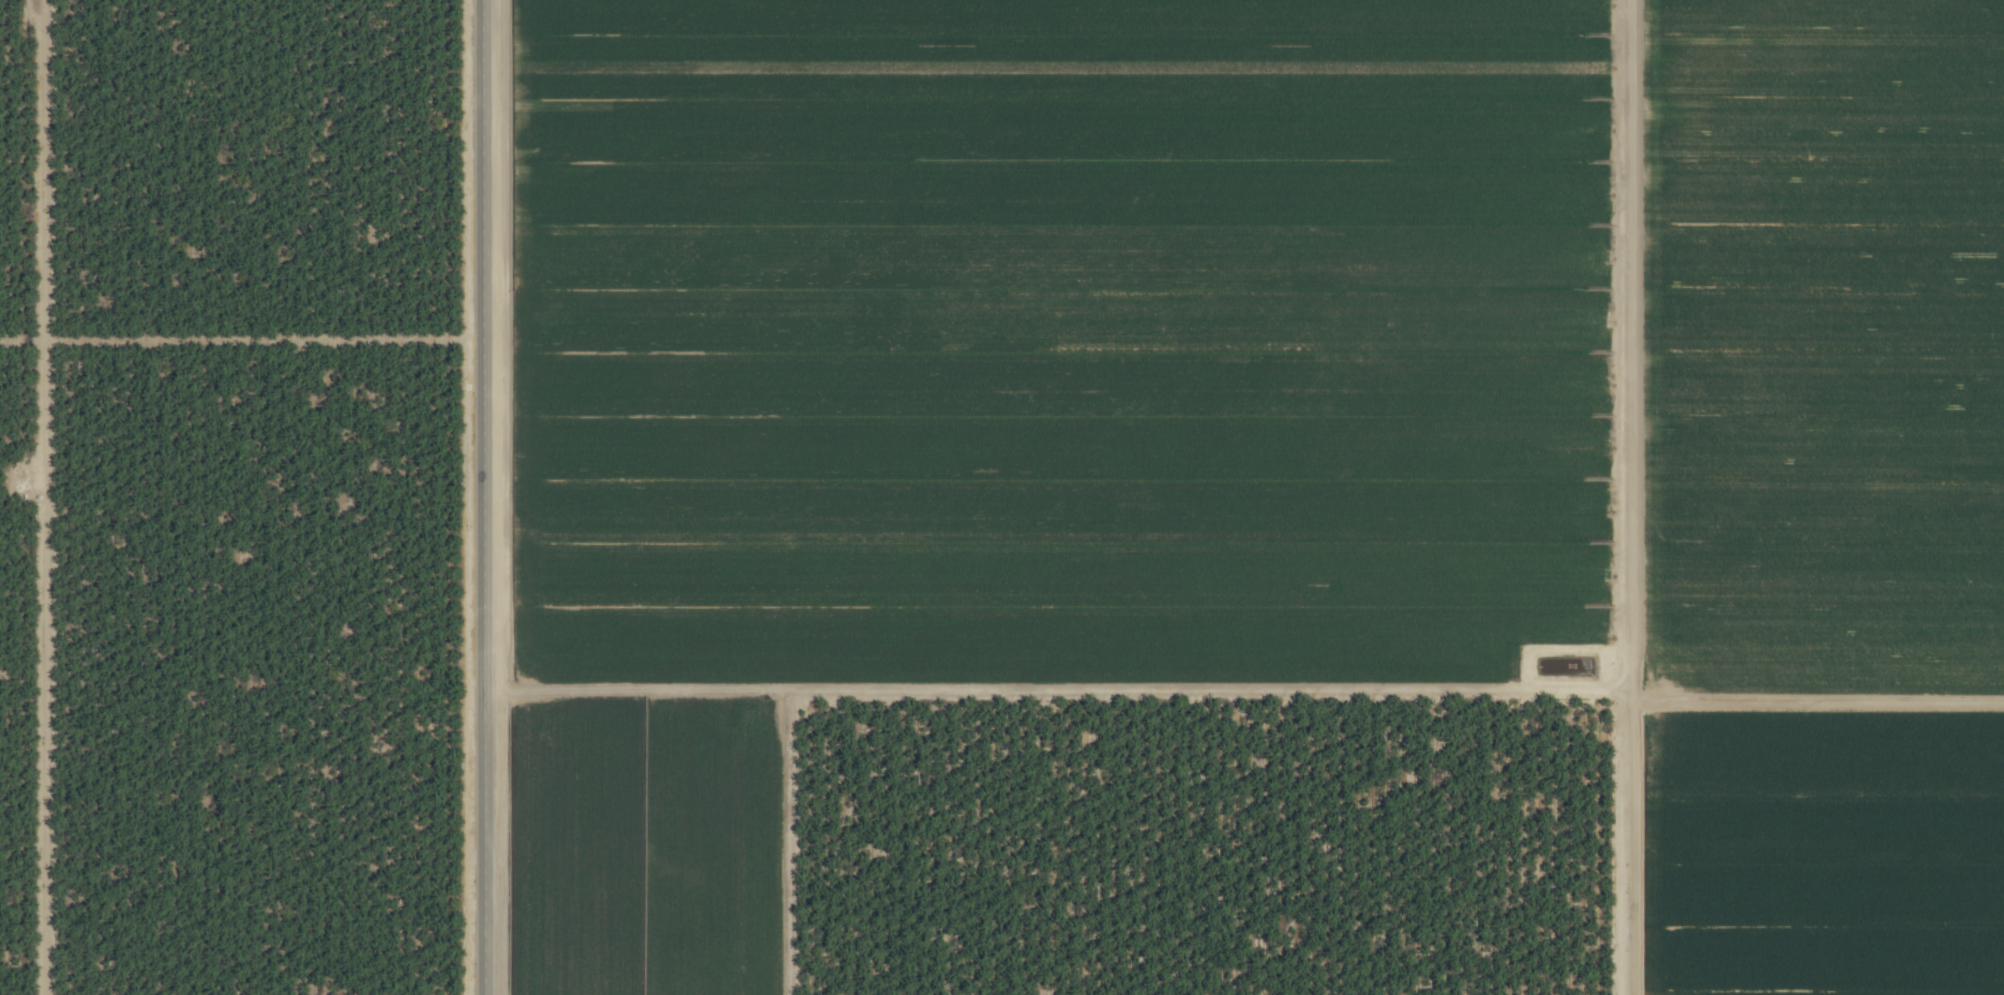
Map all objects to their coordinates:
road: (482, 497)
crop: (1002, 497)

